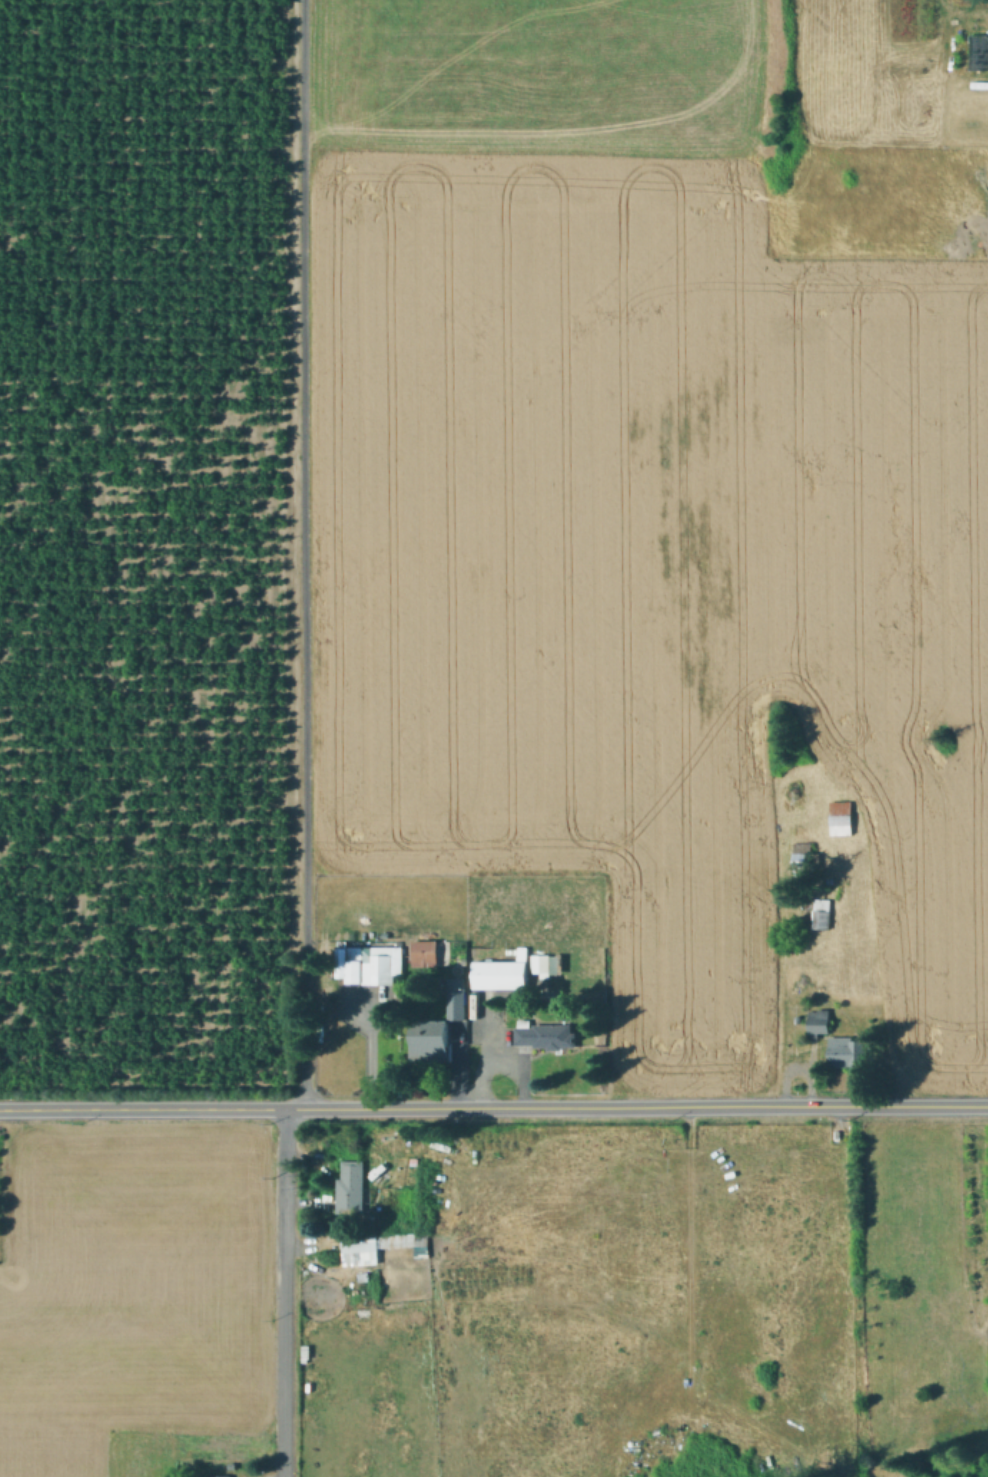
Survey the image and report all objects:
building: (978, 53)
crop: (638, 512)
road: (304, 555)
building: (842, 817)
building: (805, 858)
building: (822, 913)
building: (441, 951)
building: (426, 953)
building: (541, 962)
building: (385, 968)
building: (502, 974)
building: (457, 1002)
building: (819, 1022)
building: (546, 1035)
building: (432, 1038)
building: (848, 1052)
road: (494, 1107)
building: (349, 1186)
building: (404, 1245)
building: (356, 1250)
building: (364, 1281)
road: (687, 1282)
road: (285, 1291)
crop: (132, 1304)
building: (224, 1476)

